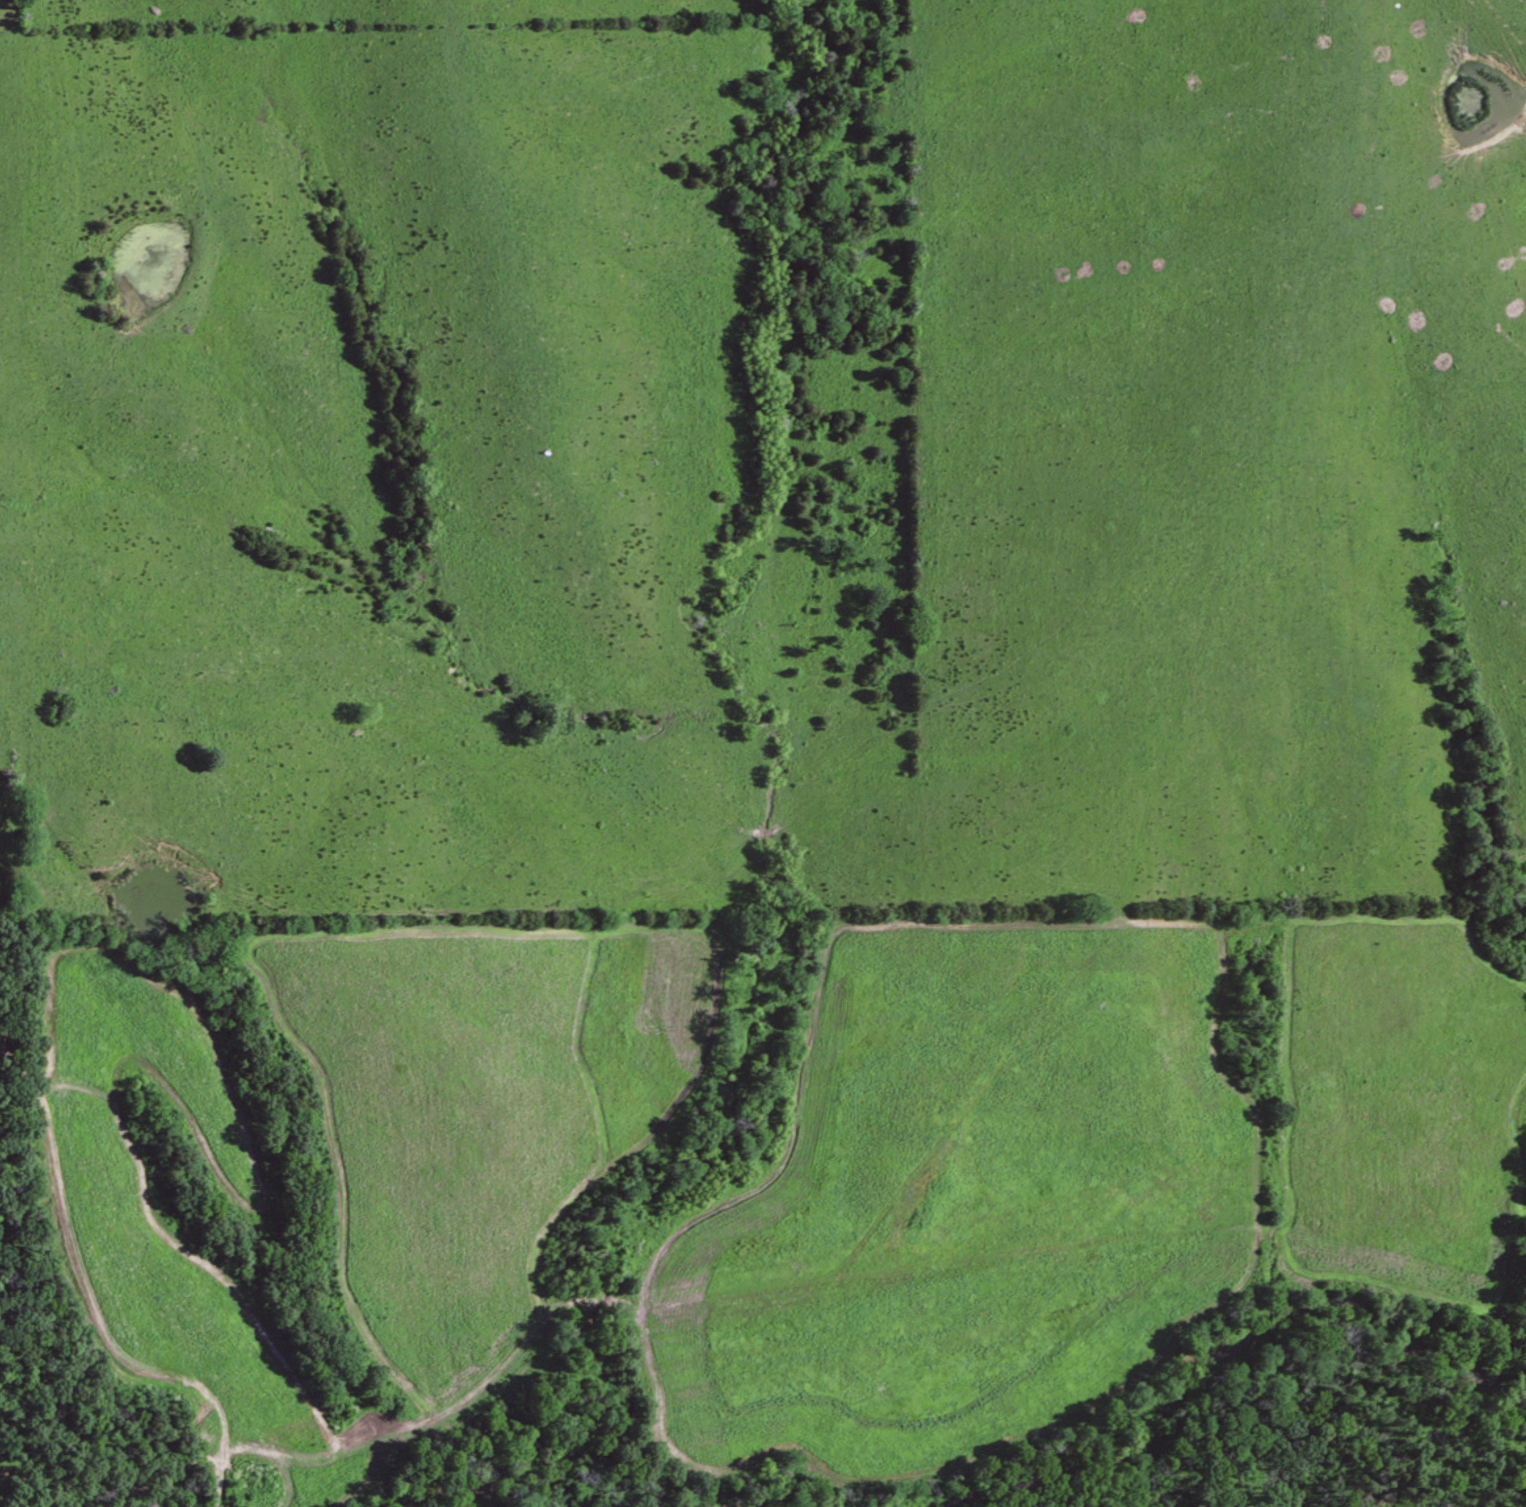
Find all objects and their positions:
road: (127, 1277)

